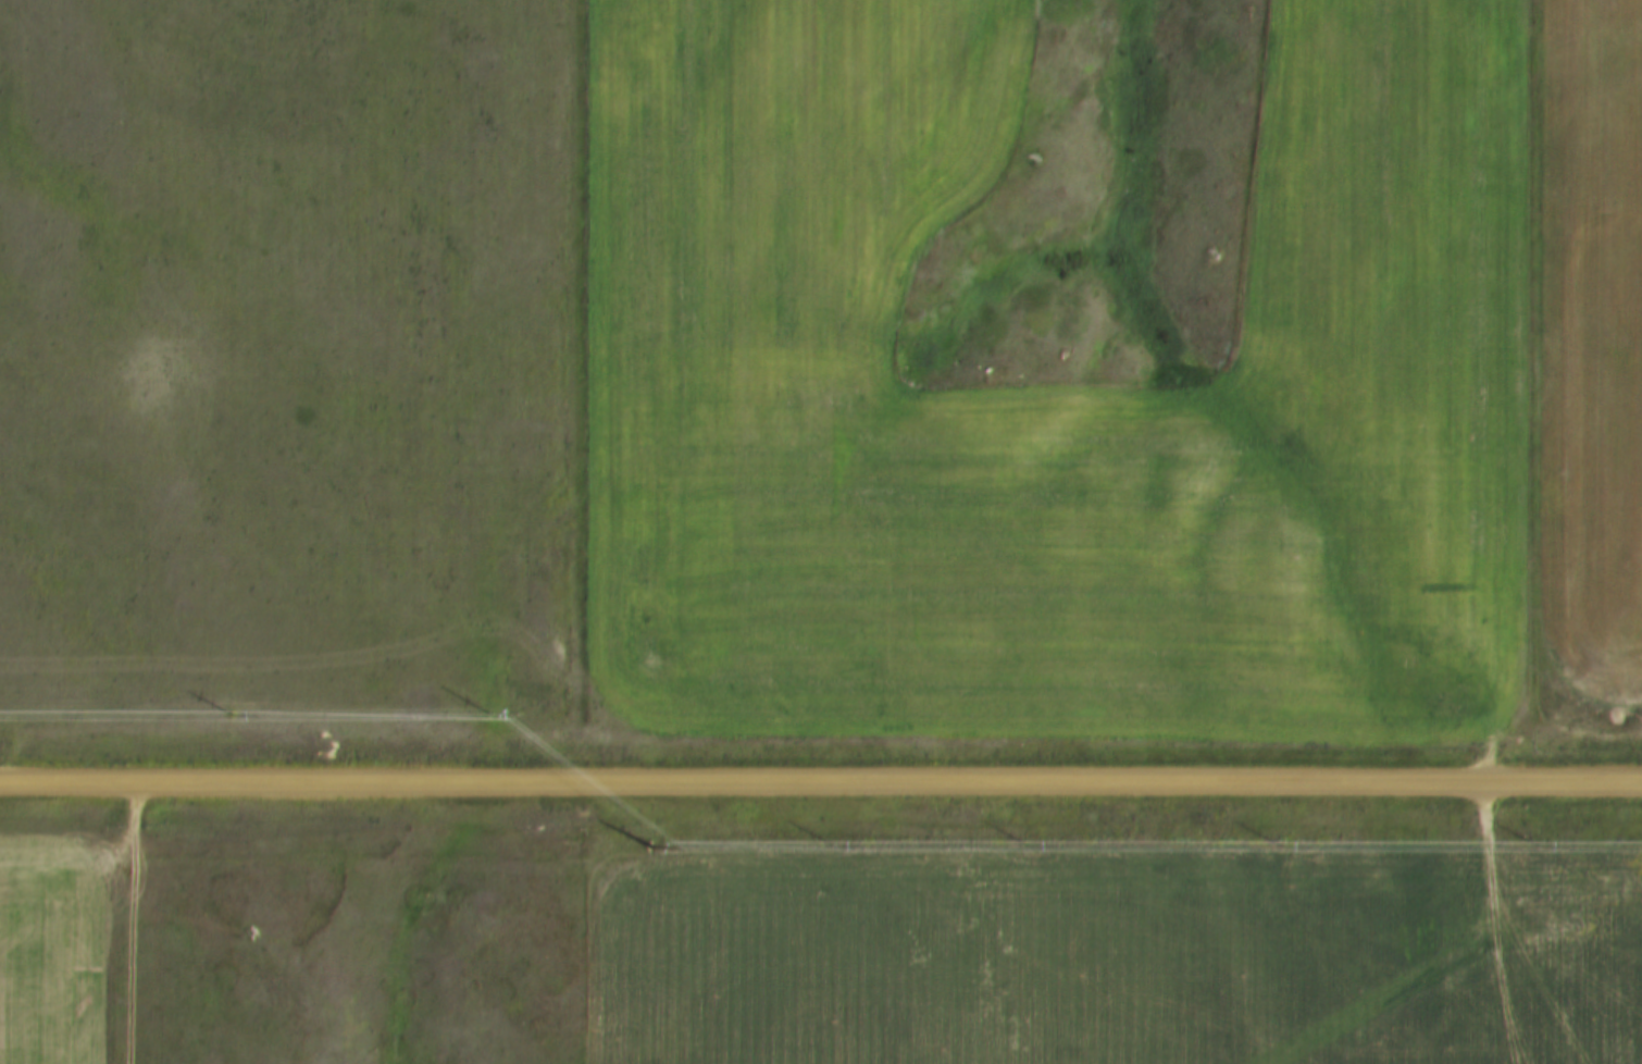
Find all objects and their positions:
road: (821, 783)

